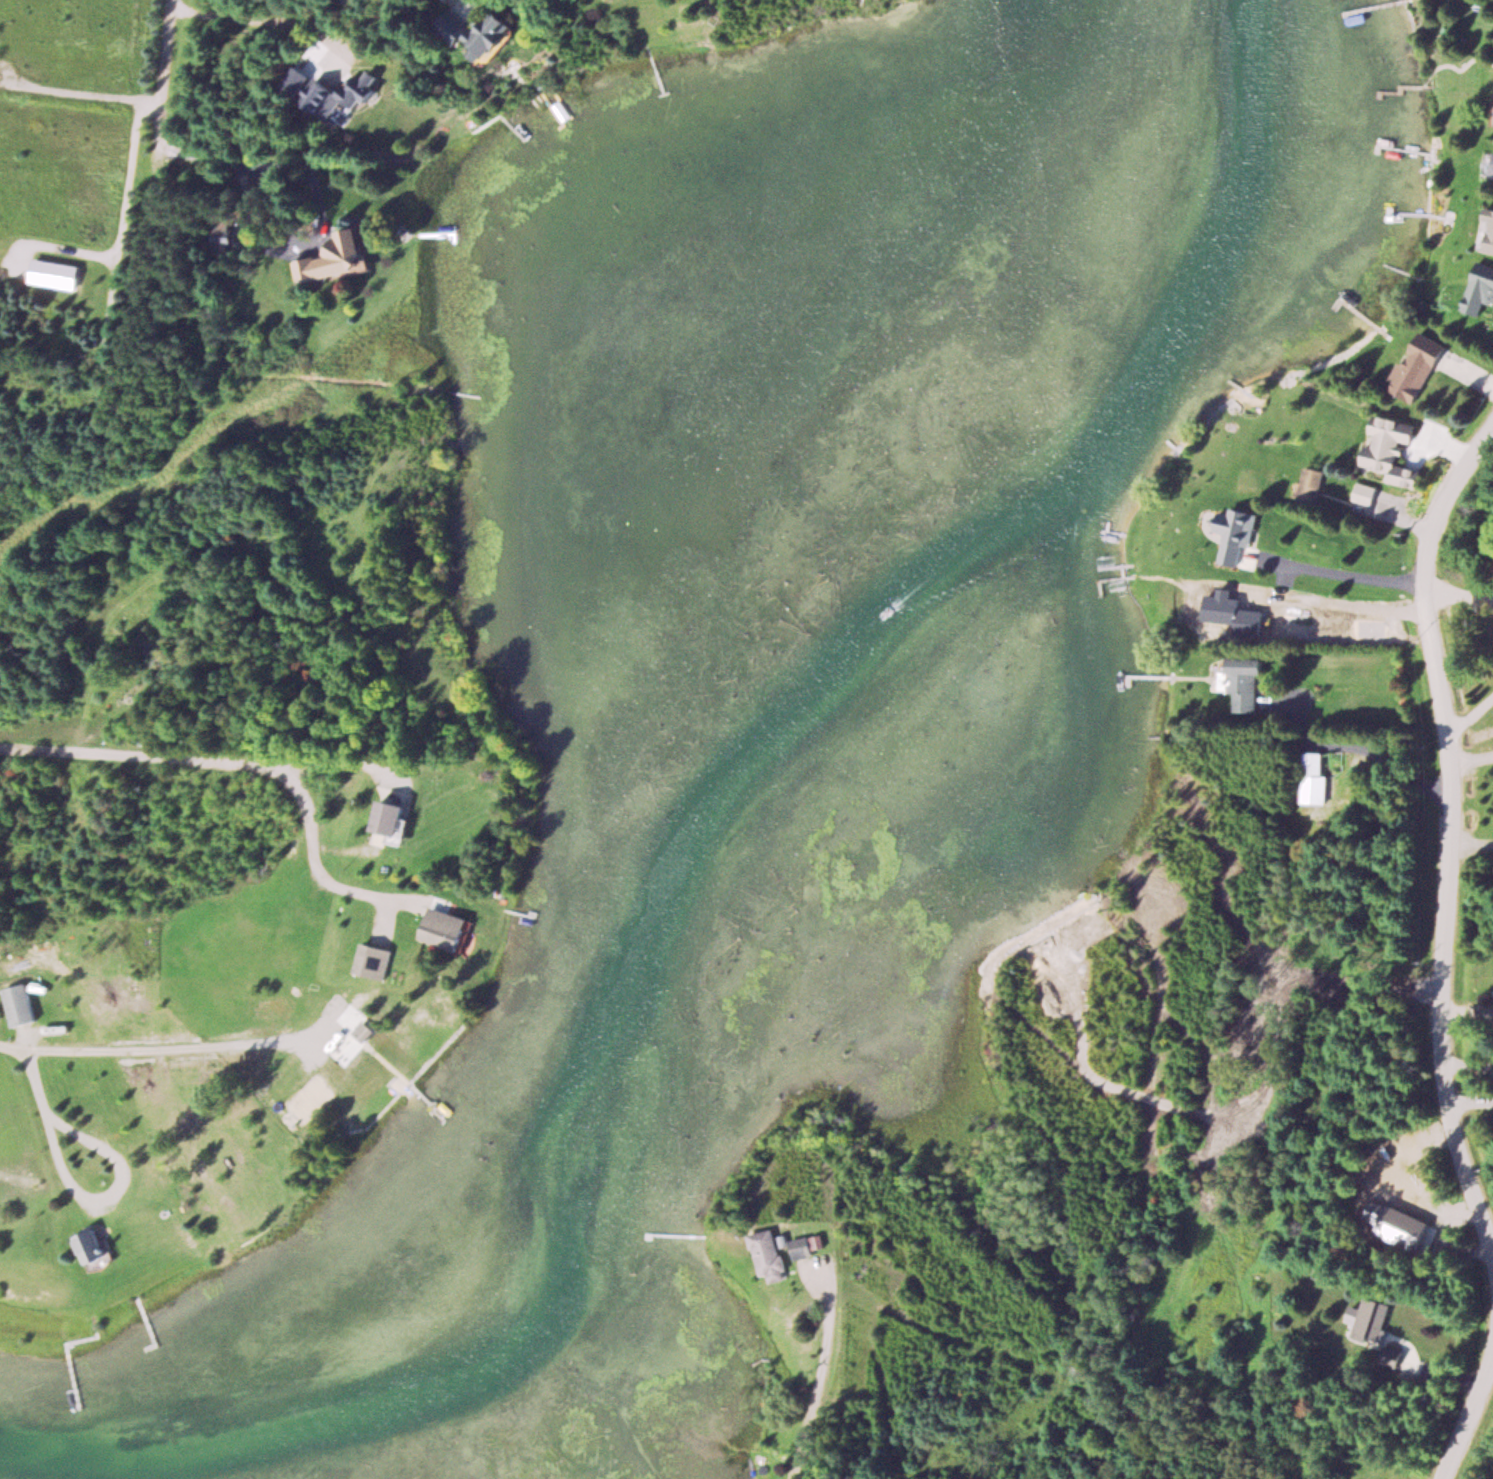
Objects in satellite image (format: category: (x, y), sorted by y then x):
building: (353, 1)
building: (480, 33)
road: (171, 77)
building: (321, 95)
building: (1492, 168)
building: (1489, 234)
building: (228, 236)
building: (346, 257)
building: (1481, 289)
building: (1418, 366)
building: (1392, 449)
building: (1311, 485)
building: (1365, 493)
building: (1242, 679)
road: (138, 757)
building: (1313, 777)
building: (395, 818)
road: (1458, 836)
river: (682, 881)
building: (447, 928)
building: (373, 960)
building: (17, 1004)
road: (13, 1049)
building: (1406, 1227)
building: (807, 1246)
building: (95, 1247)
building: (770, 1254)
building: (1370, 1318)
building: (1392, 1356)
road: (824, 1369)
road: (1470, 1425)

